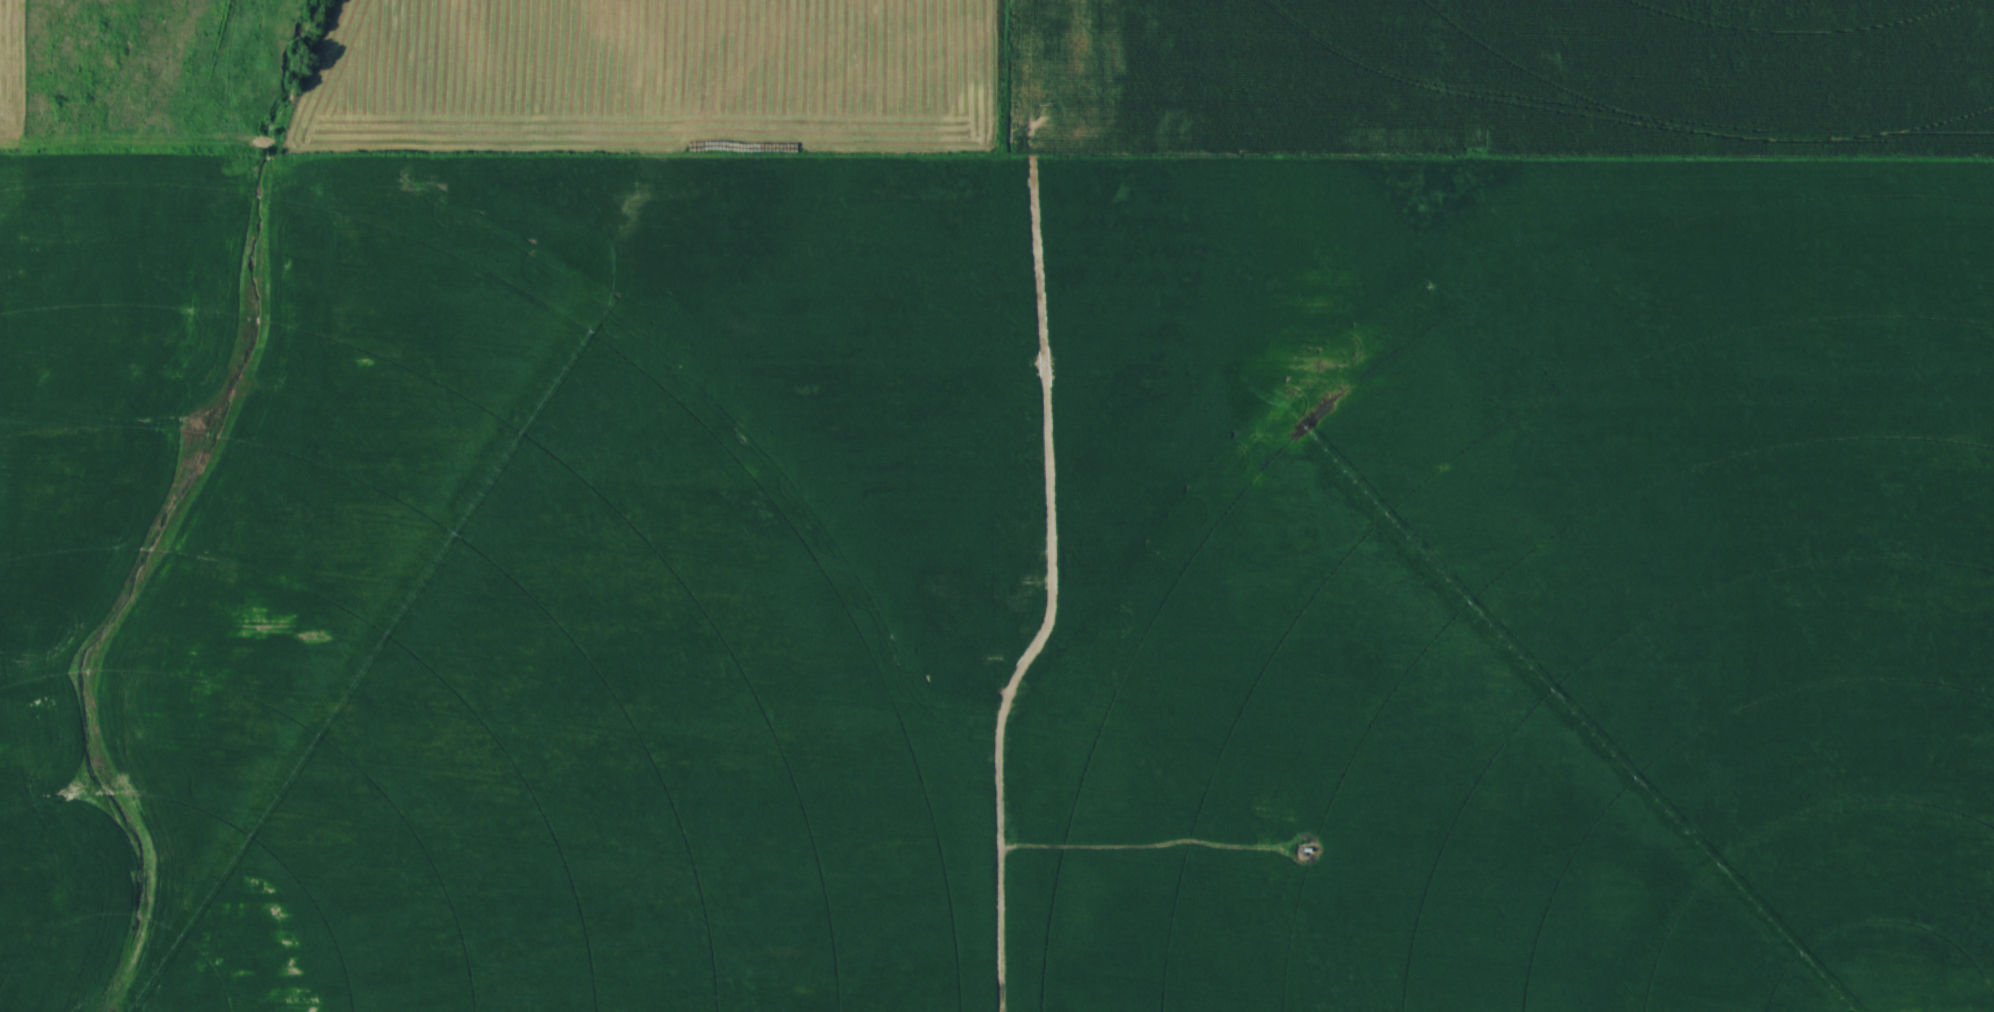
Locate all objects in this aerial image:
building: (756, 19)

